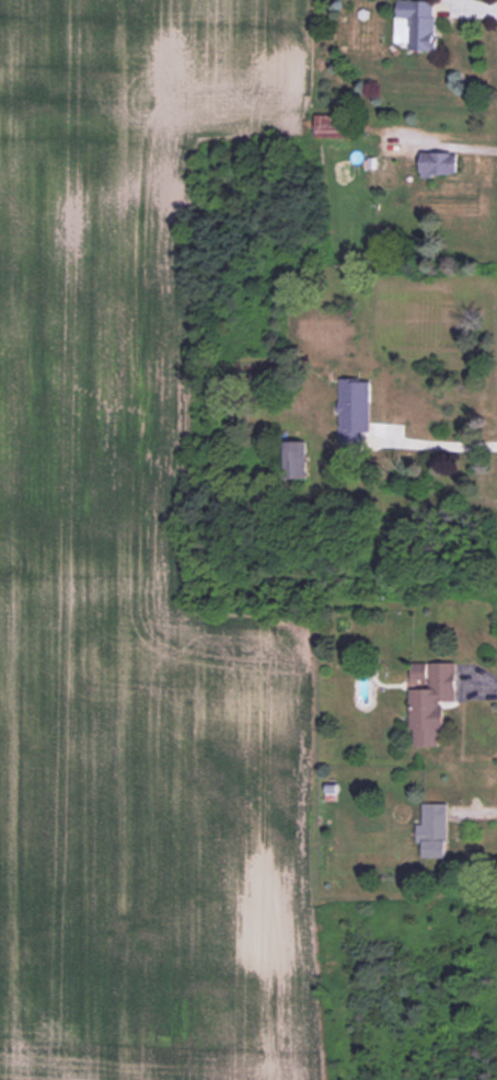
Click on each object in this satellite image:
road: (477, 5)
building: (416, 25)
building: (332, 127)
road: (439, 142)
building: (437, 164)
building: (381, 179)
building: (416, 398)
building: (346, 400)
road: (444, 441)
building: (294, 461)
building: (428, 701)
building: (431, 832)

